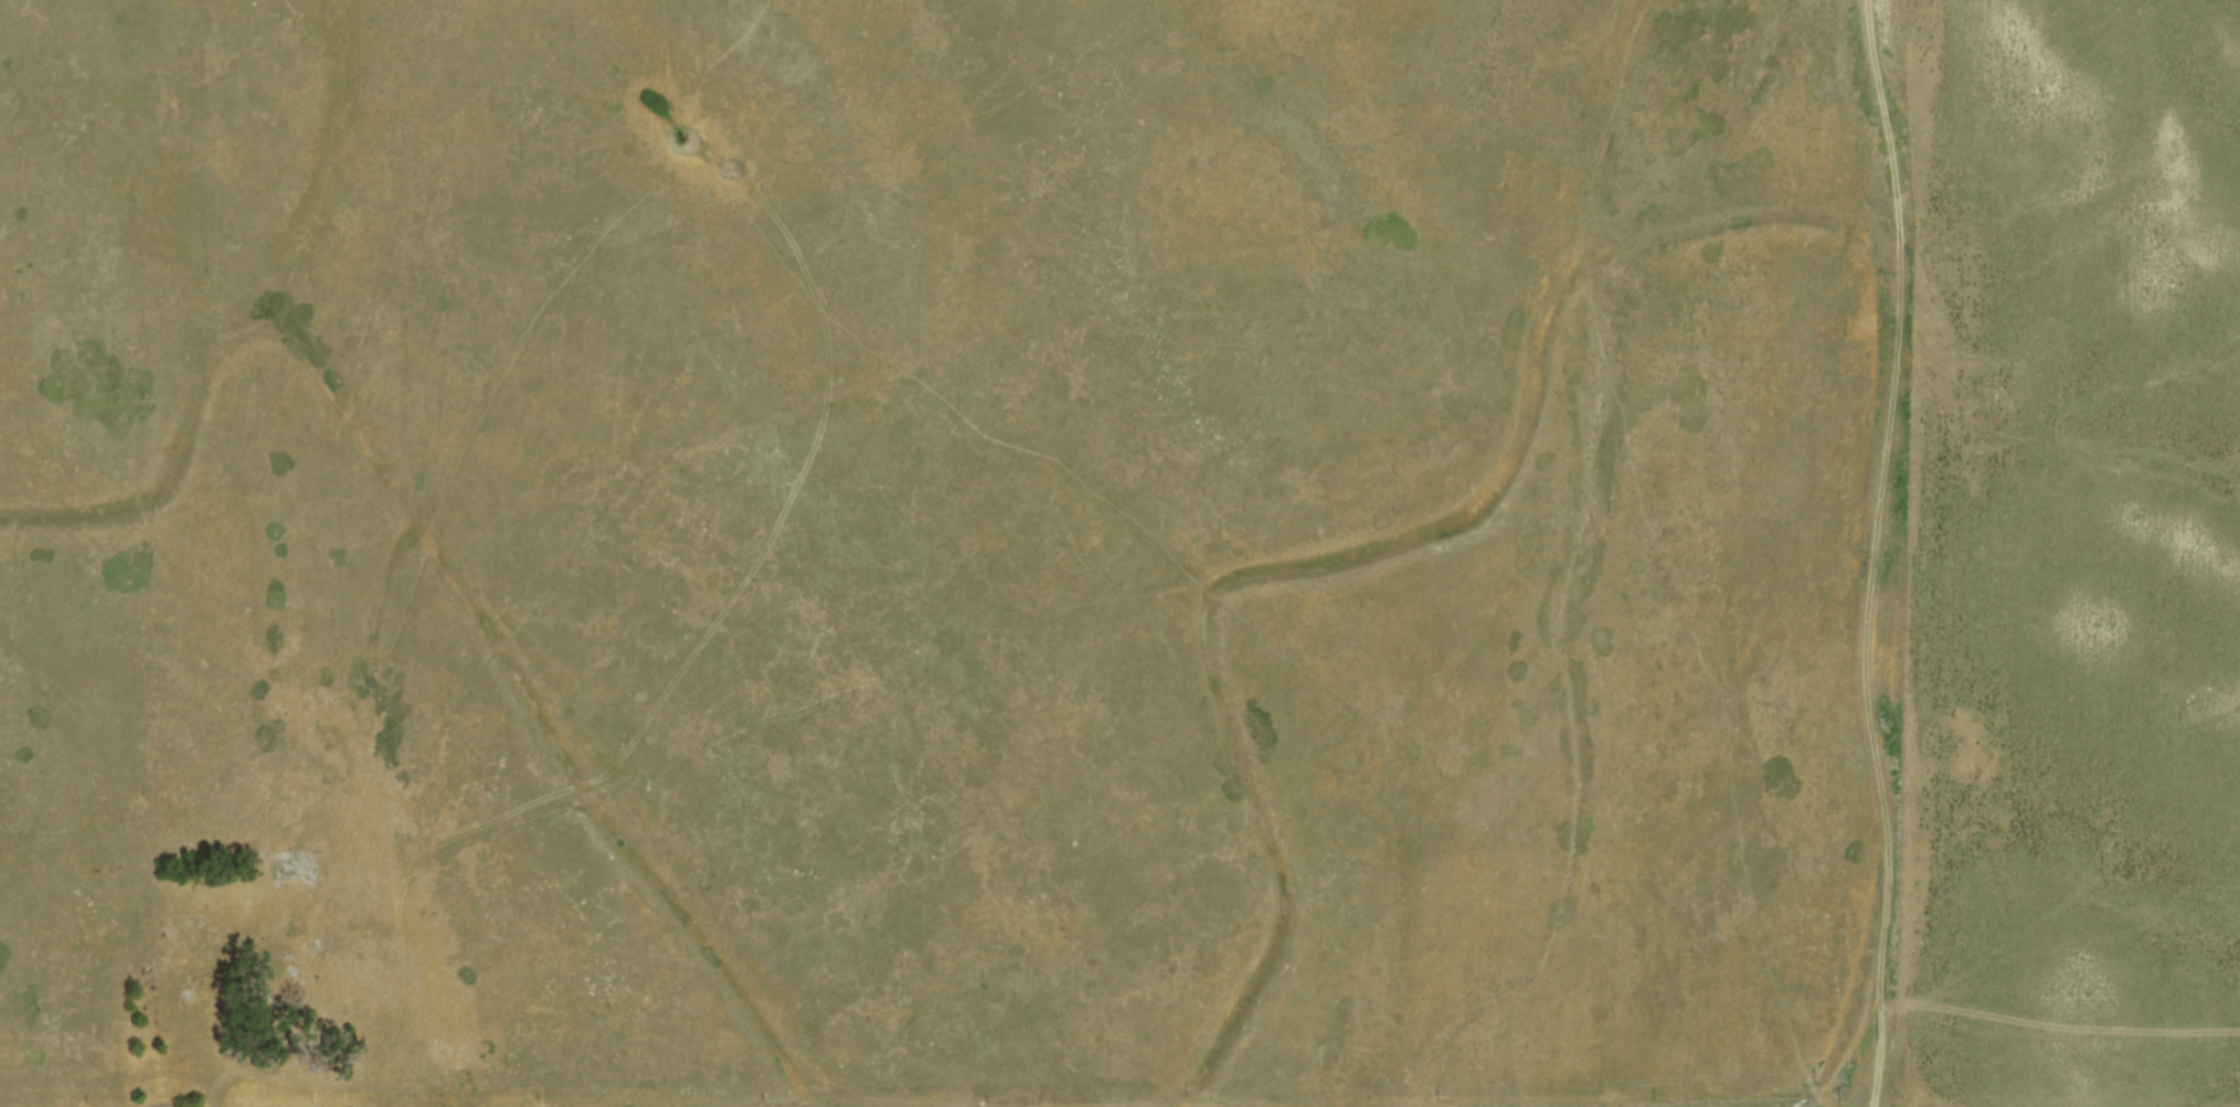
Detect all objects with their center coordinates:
road: (1877, 553)

